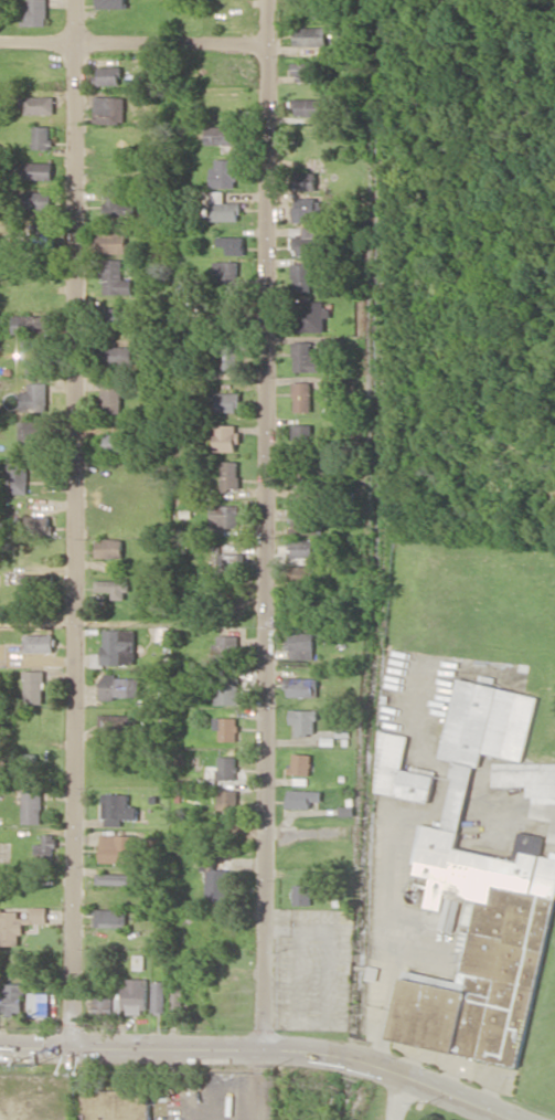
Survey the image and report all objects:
building: (110, 3)
building: (34, 12)
building: (309, 35)
road: (131, 44)
building: (308, 71)
building: (107, 75)
building: (38, 104)
building: (307, 106)
building: (109, 109)
building: (42, 136)
building: (222, 137)
building: (36, 170)
building: (223, 172)
building: (309, 180)
building: (39, 200)
building: (117, 207)
building: (223, 208)
building: (305, 209)
building: (109, 240)
building: (305, 240)
building: (231, 244)
building: (226, 271)
building: (301, 276)
building: (114, 277)
building: (117, 316)
building: (32, 323)
building: (36, 355)
building: (117, 355)
building: (230, 355)
building: (305, 357)
building: (341, 385)
building: (110, 395)
building: (301, 395)
building: (35, 397)
building: (226, 401)
building: (33, 431)
building: (300, 435)
building: (225, 436)
building: (115, 442)
building: (17, 475)
building: (230, 475)
building: (225, 515)
road: (75, 521)
building: (38, 524)
road: (264, 525)
building: (305, 525)
building: (109, 547)
building: (302, 548)
building: (231, 562)
building: (302, 574)
building: (35, 582)
building: (114, 588)
building: (39, 643)
building: (225, 645)
building: (301, 645)
building: (118, 646)
building: (34, 686)
building: (119, 686)
building: (301, 687)
building: (225, 688)
building: (303, 720)
building: (115, 722)
building: (226, 727)
building: (300, 763)
building: (227, 768)
building: (399, 770)
building: (532, 784)
building: (302, 797)
building: (227, 800)
building: (31, 806)
building: (116, 809)
building: (45, 844)
building: (117, 847)
building: (114, 878)
building: (214, 878)
building: (302, 894)
building: (481, 899)
building: (110, 917)
building: (18, 922)
building: (132, 995)
building: (159, 995)
building: (13, 999)
building: (103, 1001)
building: (177, 1001)
building: (39, 1003)
road: (132, 1045)
road: (394, 1071)
building: (116, 1105)

